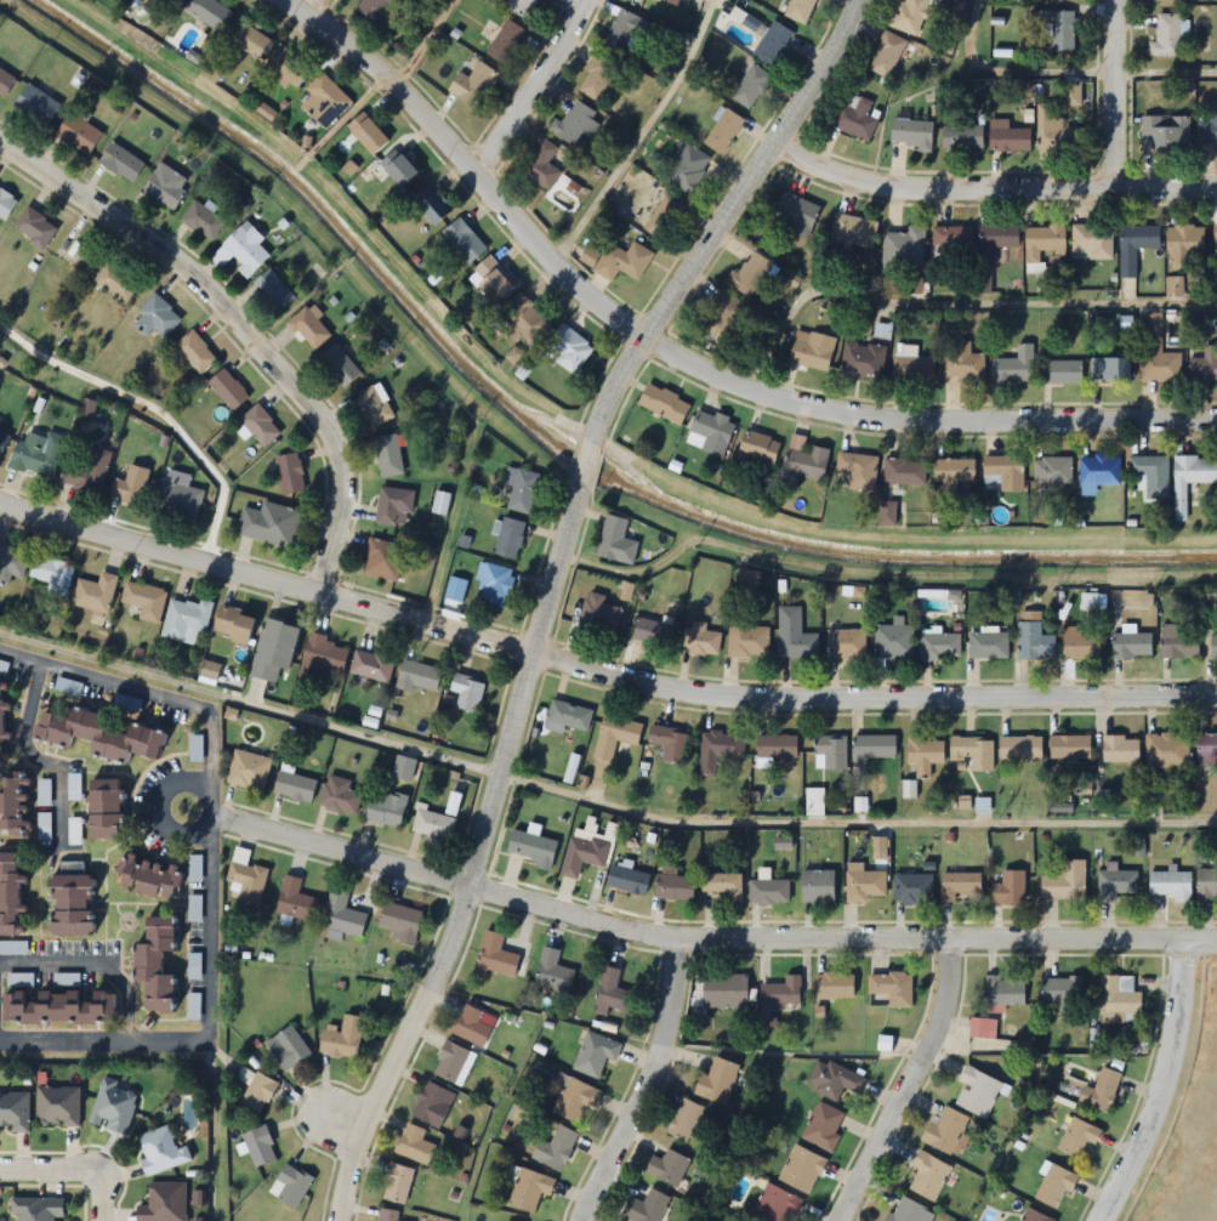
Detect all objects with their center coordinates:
building: (1057, 0)
building: (1162, 0)
building: (659, 1)
building: (170, 2)
building: (521, 7)
road: (305, 8)
building: (374, 8)
building: (800, 10)
building: (210, 13)
building: (912, 15)
building: (1057, 29)
building: (625, 30)
building: (1166, 36)
building: (248, 40)
building: (505, 42)
road: (422, 44)
building: (773, 45)
building: (886, 56)
building: (286, 68)
road: (1062, 73)
building: (599, 79)
building: (5, 83)
road: (517, 83)
building: (474, 86)
building: (751, 87)
building: (1071, 95)
road: (1119, 95)
building: (325, 102)
building: (35, 104)
building: (855, 118)
building: (575, 126)
building: (1209, 130)
building: (723, 132)
building: (78, 134)
building: (911, 134)
building: (1053, 134)
building: (368, 135)
building: (1166, 135)
road: (641, 137)
building: (962, 137)
building: (1008, 140)
building: (121, 163)
building: (541, 166)
building: (398, 169)
building: (690, 170)
building: (165, 187)
road: (989, 191)
building: (5, 204)
building: (432, 205)
building: (796, 215)
building: (665, 218)
building: (201, 221)
building: (34, 227)
building: (853, 232)
building: (1215, 234)
building: (952, 240)
building: (996, 240)
building: (464, 242)
building: (1043, 242)
building: (1092, 242)
building: (1184, 244)
building: (1134, 246)
building: (905, 248)
building: (245, 250)
road: (339, 255)
building: (619, 260)
building: (752, 276)
building: (1215, 277)
building: (491, 280)
building: (115, 282)
building: (273, 290)
road: (952, 303)
building: (157, 318)
building: (724, 320)
building: (523, 323)
road: (239, 328)
building: (309, 329)
building: (809, 348)
building: (568, 350)
building: (195, 352)
building: (1158, 353)
building: (861, 359)
building: (962, 363)
building: (1204, 364)
building: (339, 367)
road: (677, 367)
building: (1014, 367)
building: (912, 369)
building: (1109, 369)
building: (1060, 374)
building: (227, 388)
building: (664, 404)
building: (373, 407)
road: (155, 410)
building: (260, 426)
building: (711, 433)
building: (4, 442)
building: (757, 447)
building: (38, 455)
building: (388, 456)
building: (804, 459)
building: (858, 471)
building: (954, 471)
building: (1052, 471)
building: (1099, 471)
building: (904, 472)
building: (87, 473)
building: (1003, 473)
building: (290, 475)
building: (1151, 476)
building: (1190, 479)
building: (131, 487)
building: (521, 490)
building: (178, 500)
building: (439, 505)
building: (393, 507)
building: (269, 524)
building: (510, 539)
building: (616, 541)
building: (383, 561)
building: (11, 564)
building: (52, 575)
building: (494, 585)
road: (547, 585)
building: (95, 594)
building: (144, 601)
building: (599, 615)
building: (186, 620)
building: (232, 625)
building: (653, 632)
building: (795, 636)
building: (1034, 637)
building: (746, 638)
building: (699, 641)
building: (894, 642)
building: (1178, 643)
building: (1215, 643)
building: (846, 644)
building: (1079, 644)
building: (1131, 644)
building: (989, 646)
building: (940, 647)
building: (273, 652)
building: (323, 657)
building: (371, 666)
road: (598, 671)
building: (466, 692)
building: (569, 716)
building: (1, 723)
building: (97, 736)
building: (616, 737)
building: (670, 743)
building: (777, 748)
building: (875, 748)
building: (1020, 748)
building: (1069, 748)
building: (1121, 749)
building: (720, 750)
building: (1206, 750)
building: (1167, 751)
building: (973, 753)
building: (831, 754)
building: (925, 755)
road: (39, 762)
building: (249, 771)
building: (294, 786)
building: (44, 793)
building: (339, 796)
road: (598, 801)
building: (13, 805)
building: (385, 808)
building: (102, 810)
road: (160, 814)
building: (432, 824)
building: (44, 825)
building: (531, 848)
building: (584, 854)
building: (195, 868)
road: (212, 875)
building: (148, 878)
building: (627, 880)
building: (246, 881)
building: (1065, 882)
building: (1206, 882)
building: (1115, 884)
building: (864, 885)
building: (1171, 885)
building: (723, 886)
building: (961, 886)
building: (673, 887)
building: (818, 887)
building: (912, 888)
building: (1010, 890)
building: (769, 892)
building: (8, 895)
building: (295, 901)
building: (68, 903)
building: (194, 908)
building: (342, 915)
building: (399, 922)
road: (706, 938)
building: (496, 955)
road: (95, 964)
building: (153, 965)
building: (552, 971)
building: (834, 986)
building: (891, 989)
building: (724, 990)
building: (612, 992)
building: (1005, 992)
building: (1062, 992)
building: (781, 993)
building: (1119, 1000)
building: (57, 1007)
building: (471, 1026)
building: (983, 1028)
building: (342, 1038)
building: (288, 1050)
building: (595, 1054)
building: (453, 1063)
building: (832, 1079)
building: (717, 1080)
road: (643, 1083)
road: (910, 1084)
road: (1160, 1087)
building: (978, 1092)
building: (1102, 1092)
building: (575, 1100)
building: (432, 1104)
building: (57, 1107)
building: (112, 1107)
building: (13, 1112)
road: (339, 1118)
building: (686, 1120)
building: (824, 1126)
building: (948, 1132)
building: (1077, 1138)
building: (414, 1146)
building: (258, 1147)
building: (555, 1149)
building: (160, 1151)
building: (667, 1168)
building: (801, 1169)
road: (70, 1170)
building: (927, 1176)
building: (397, 1185)
building: (290, 1186)
building: (1054, 1187)
building: (529, 1189)
building: (163, 1203)
building: (773, 1205)
building: (36, 1208)
building: (646, 1208)
building: (908, 1214)
building: (387, 1215)
building: (1034, 1216)

